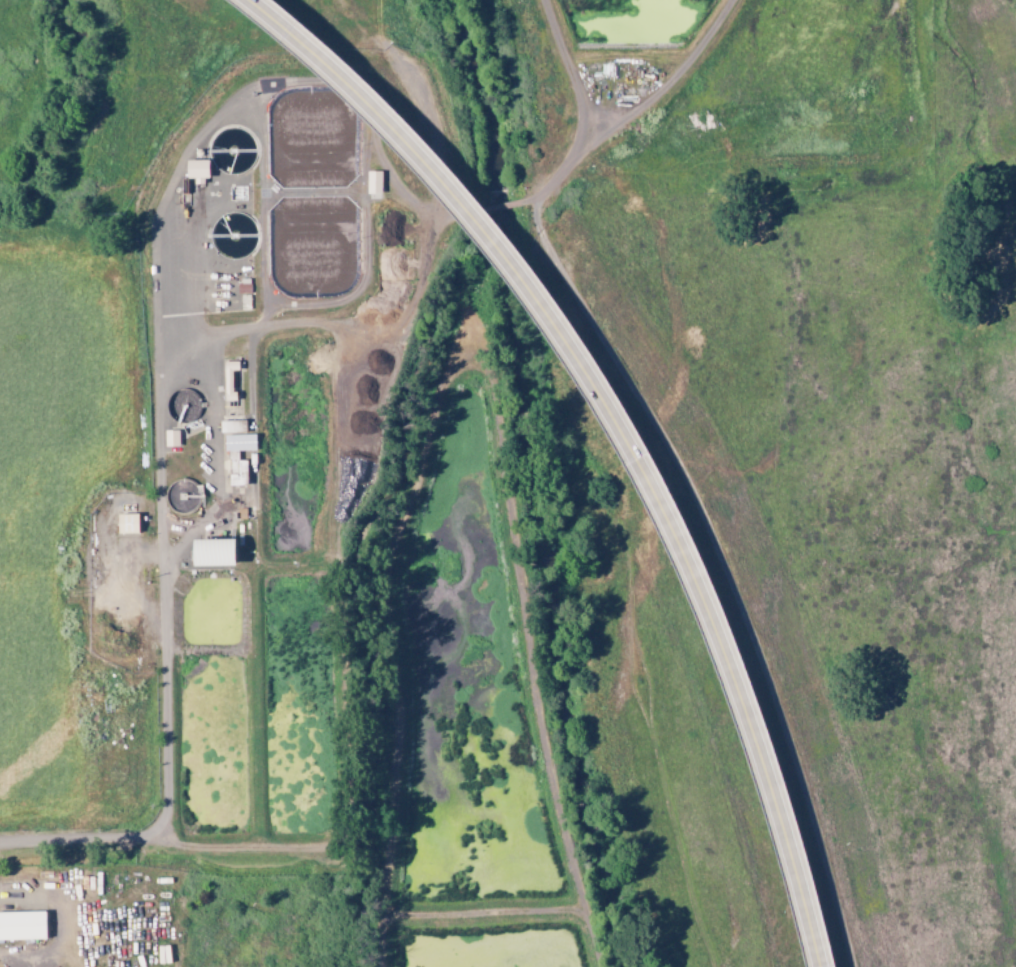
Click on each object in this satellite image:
building: (198, 169)
building: (374, 182)
road: (465, 389)
building: (234, 426)
road: (620, 430)
building: (172, 438)
building: (233, 455)
building: (129, 523)
building: (216, 552)
road: (172, 846)
parking lot: (94, 910)
road: (482, 915)
building: (23, 925)

